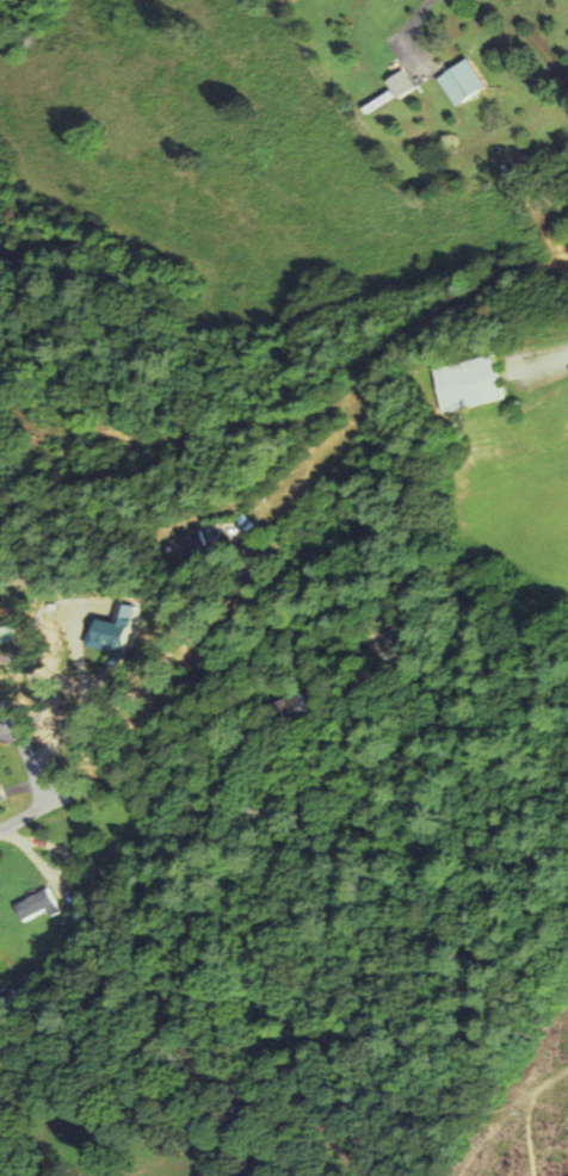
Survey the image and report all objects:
building: (455, 83)
building: (394, 85)
building: (463, 383)
building: (185, 543)
building: (109, 630)
building: (5, 633)
road: (26, 753)
building: (0, 797)
road: (61, 800)
building: (36, 904)

